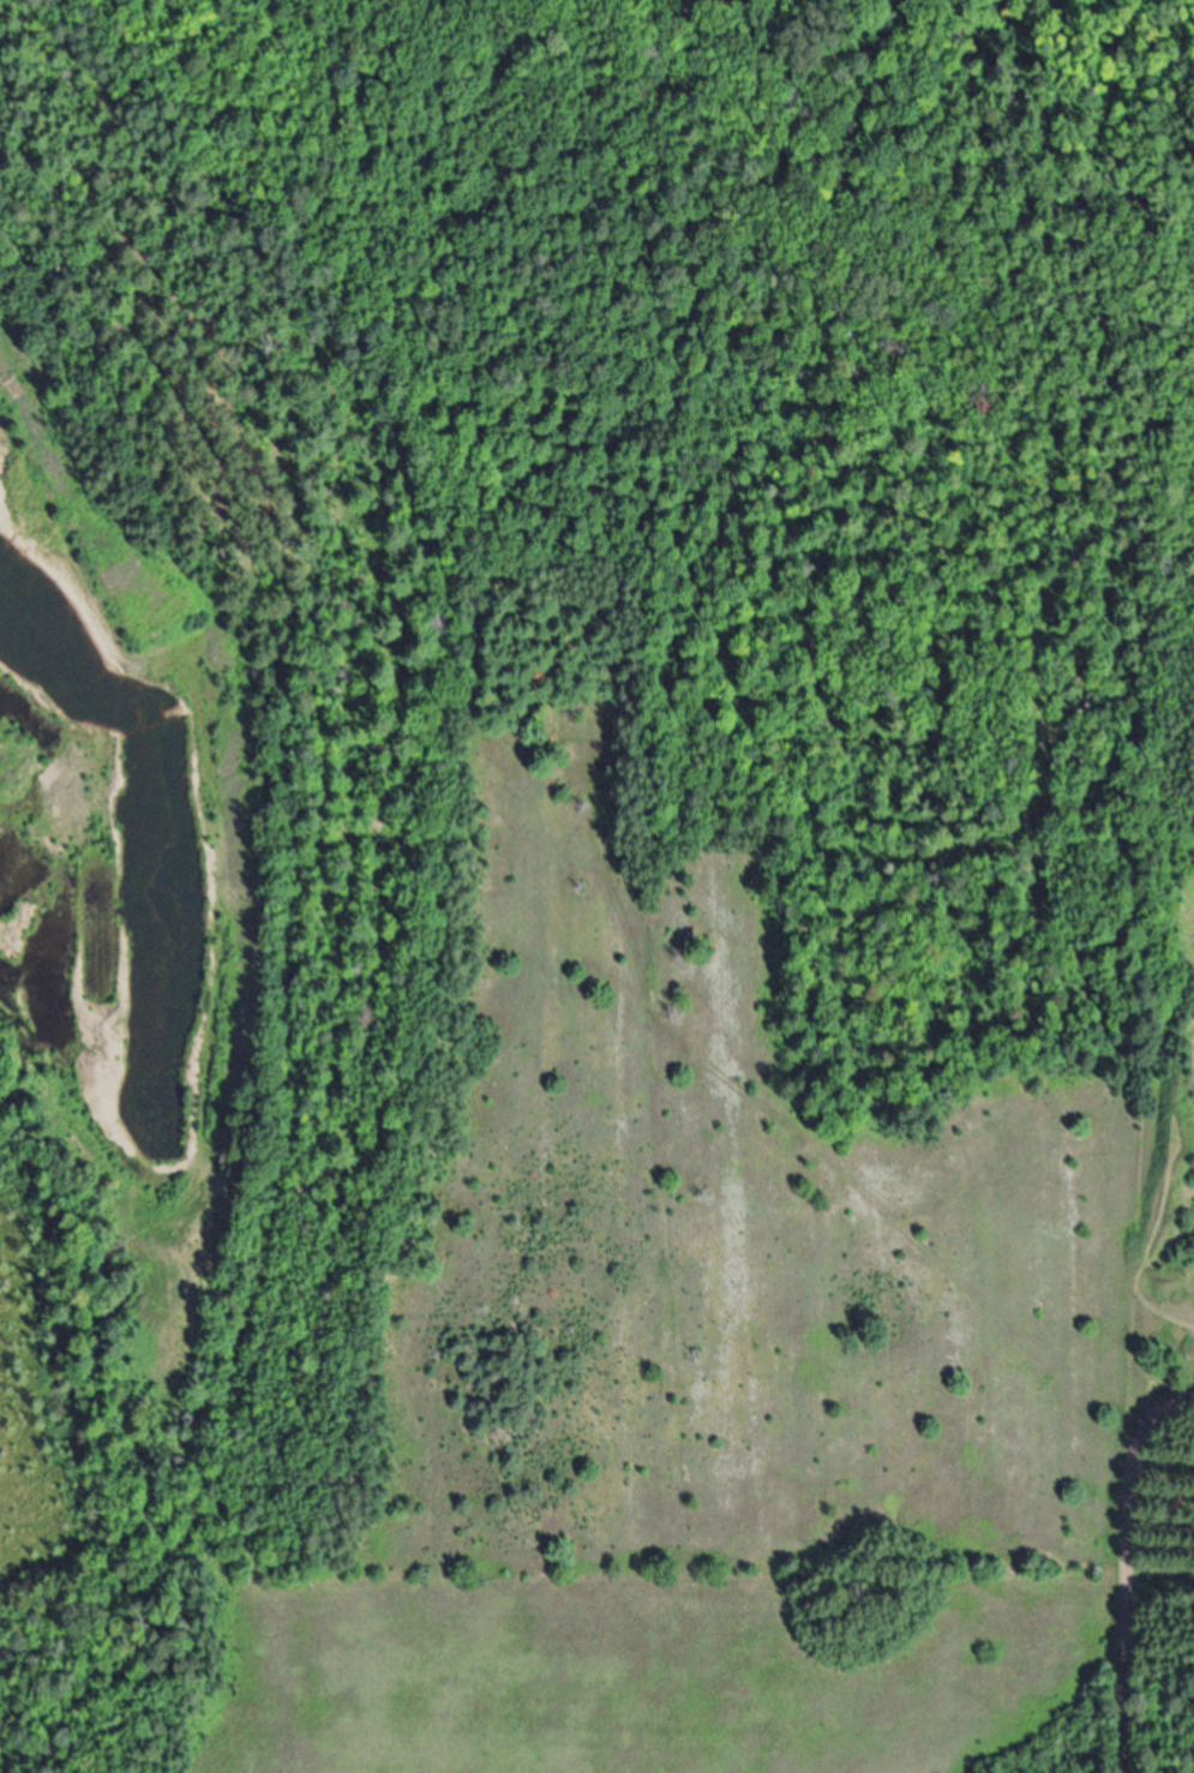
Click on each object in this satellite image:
quarry: (566, 964)
road: (1170, 1408)
road: (1134, 1598)

